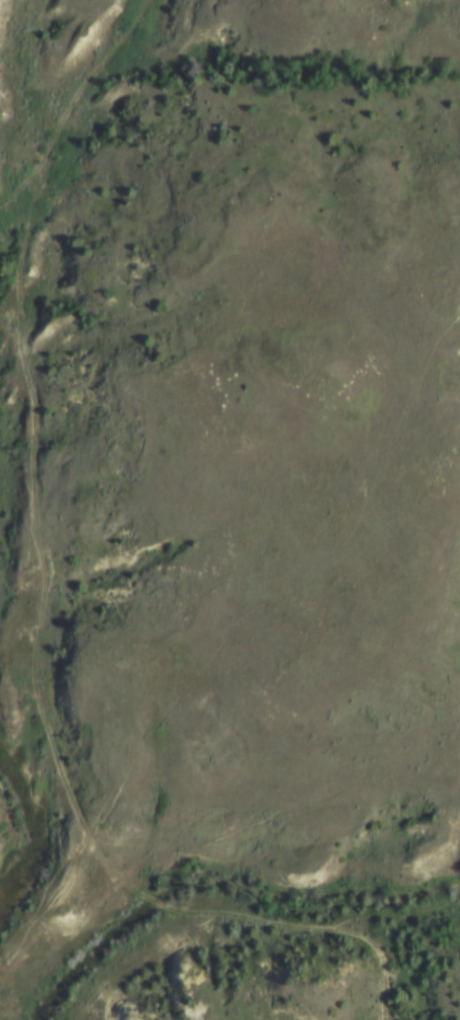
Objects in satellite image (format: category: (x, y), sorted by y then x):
road: (71, 102)

